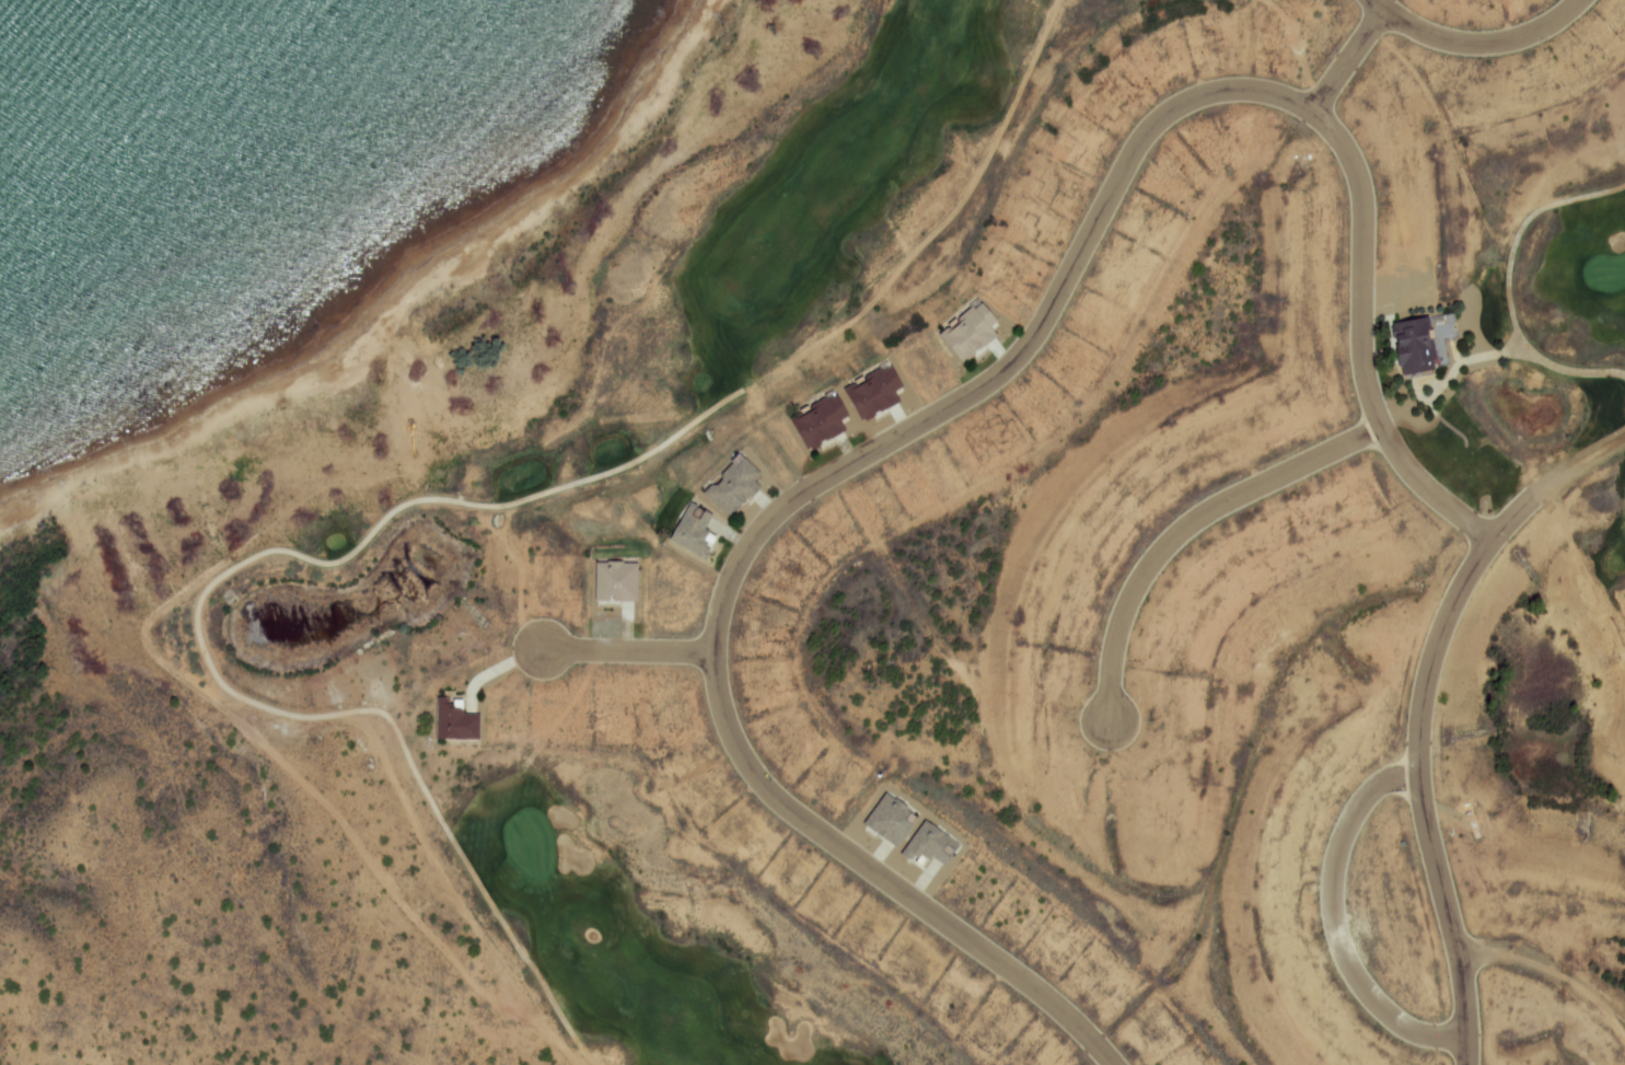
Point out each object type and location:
road: (1475, 43)
road: (1347, 60)
park: (794, 240)
road: (1507, 285)
building: (963, 332)
building: (1409, 346)
road: (1476, 357)
park: (1532, 368)
road: (977, 387)
building: (869, 393)
building: (814, 422)
building: (1463, 463)
road: (1577, 464)
building: (730, 486)
road: (392, 514)
road: (1191, 522)
building: (689, 531)
building: (613, 581)
road: (636, 651)
building: (454, 721)
road: (1419, 767)
building: (886, 821)
building: (927, 846)
road: (1334, 923)
park: (628, 929)

